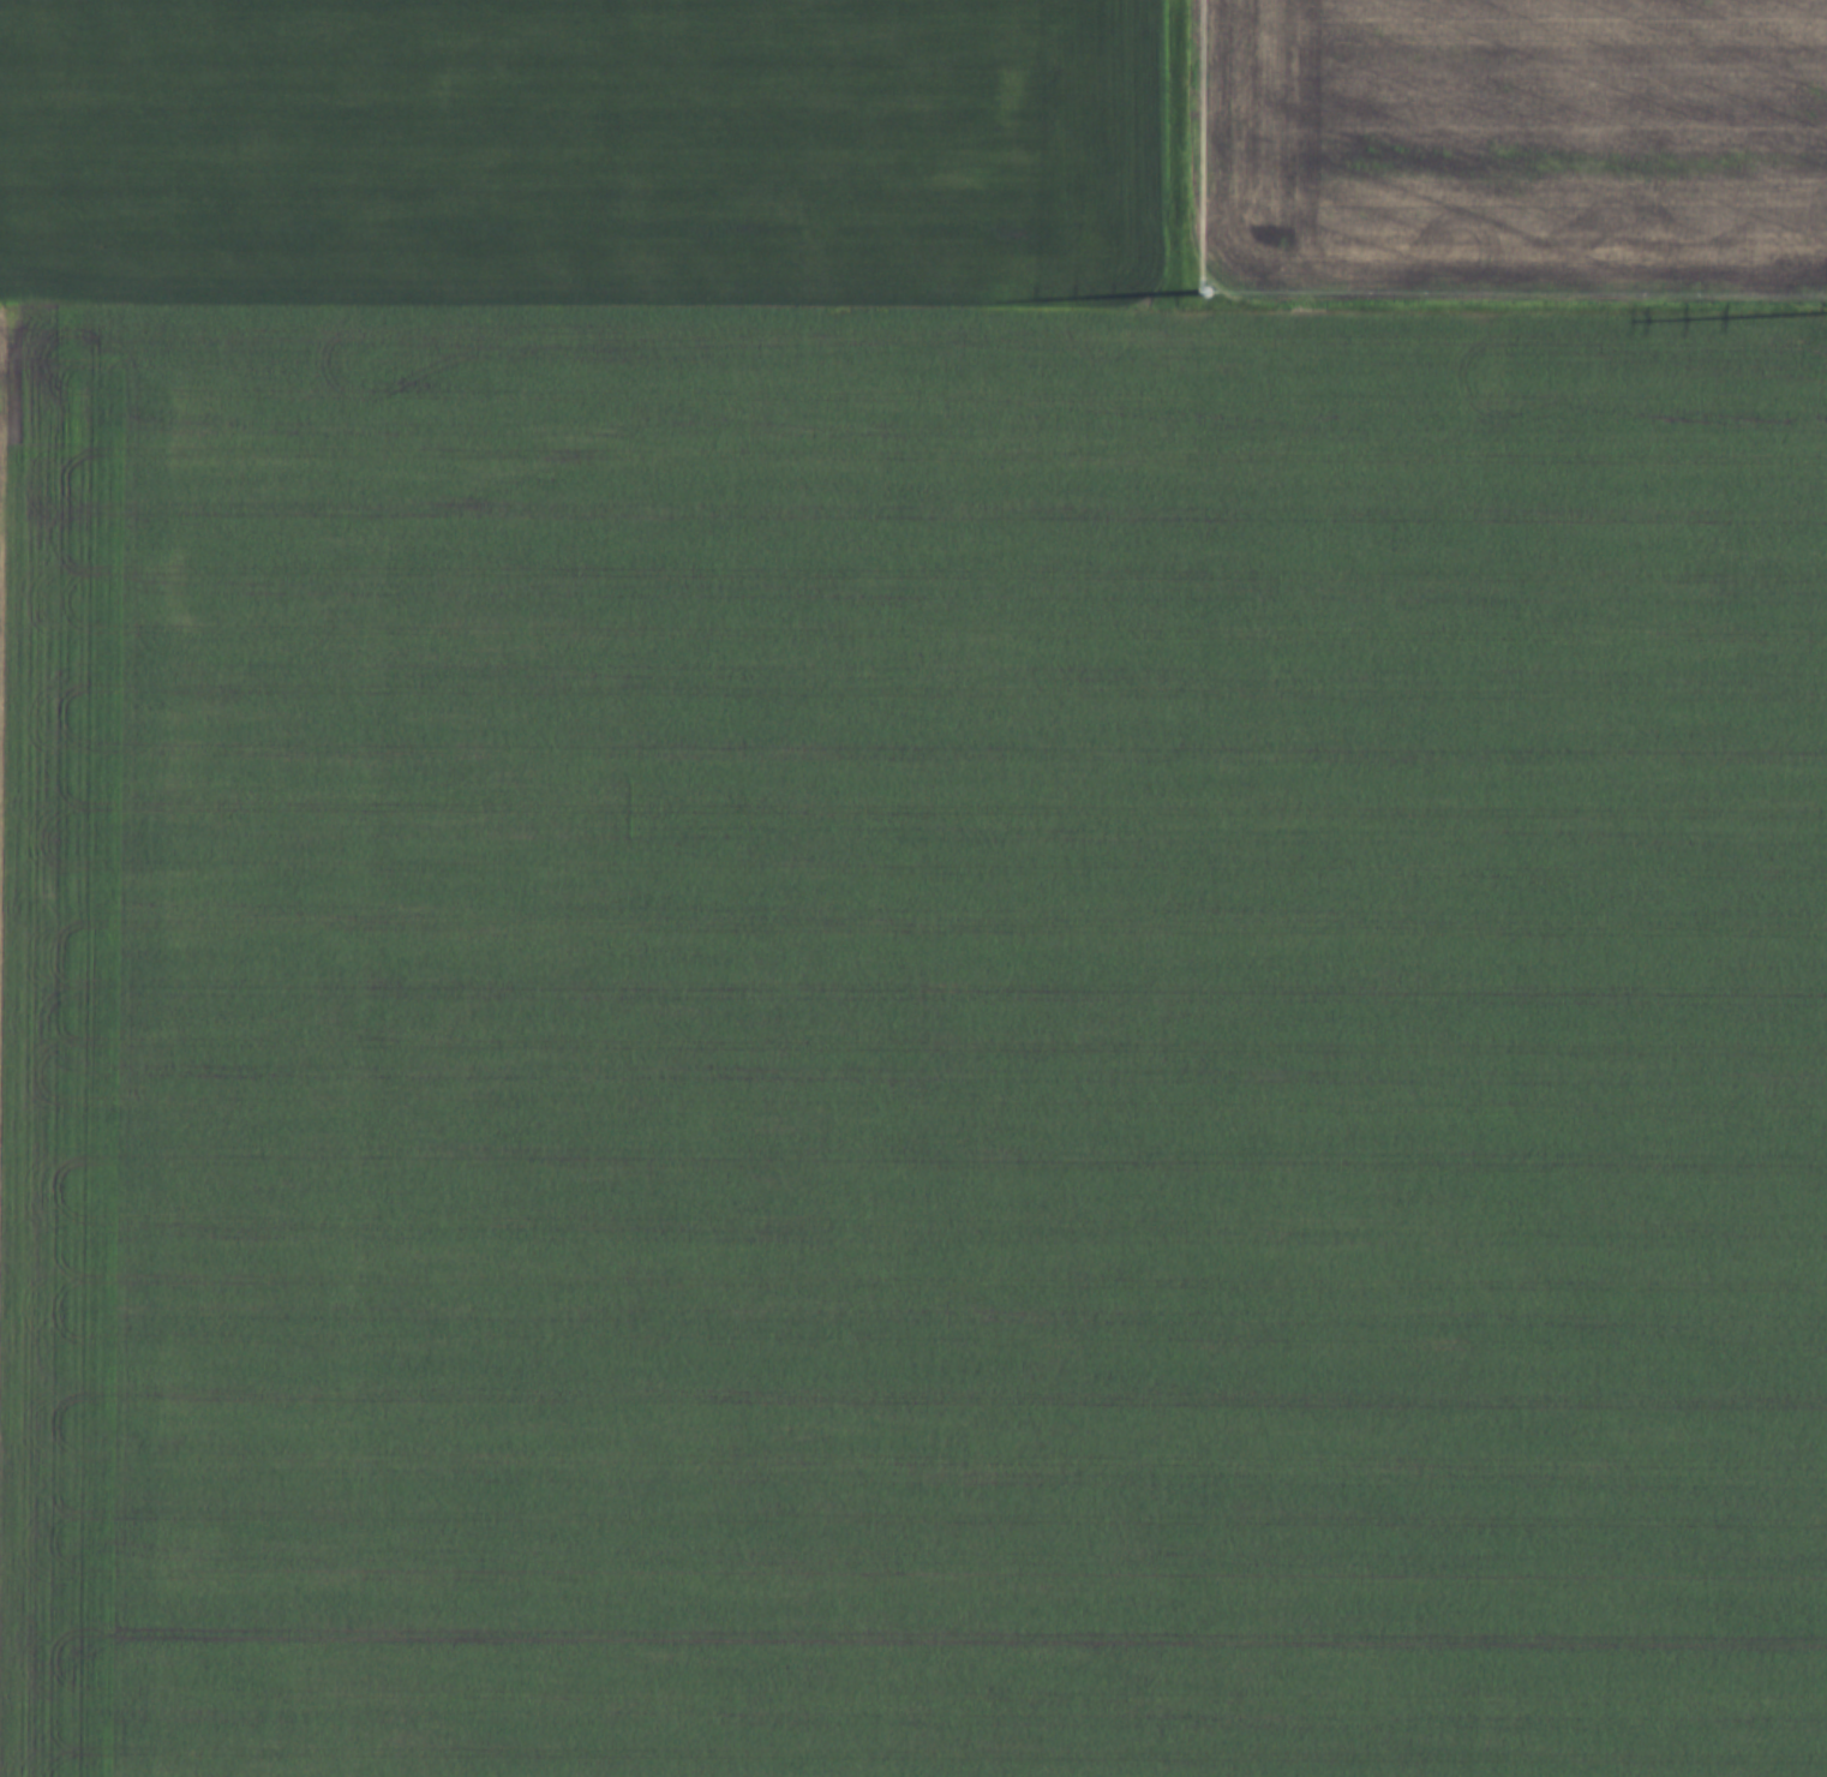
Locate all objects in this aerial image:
power tower: (1208, 295)

